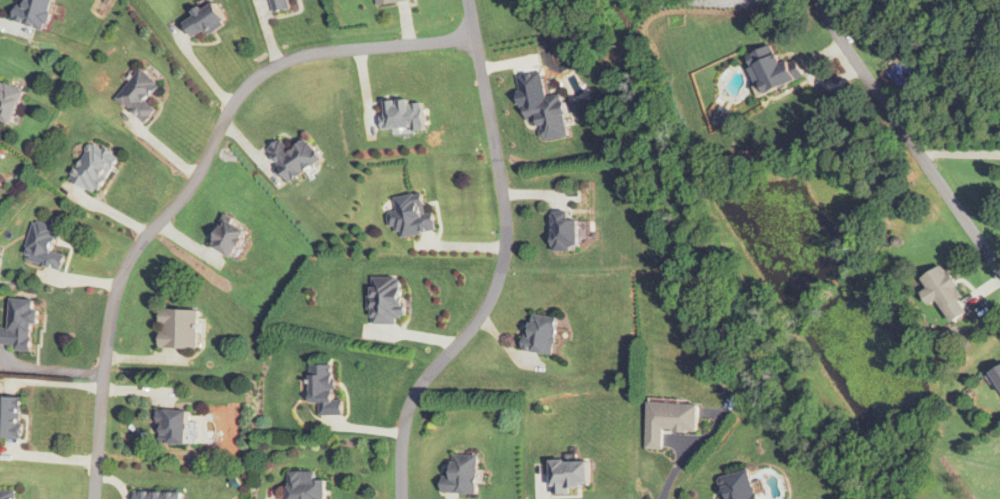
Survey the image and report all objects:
building: (389, 1)
building: (279, 5)
building: (34, 13)
building: (205, 21)
building: (773, 70)
building: (139, 96)
building: (10, 102)
building: (404, 116)
building: (550, 117)
road: (907, 137)
building: (294, 159)
building: (95, 168)
road: (194, 180)
building: (411, 217)
building: (566, 232)
building: (229, 238)
building: (45, 247)
road: (502, 263)
building: (944, 294)
building: (386, 299)
building: (20, 327)
building: (180, 331)
building: (541, 334)
building: (325, 390)
building: (11, 416)
building: (670, 419)
building: (174, 426)
road: (666, 472)
building: (572, 473)
building: (462, 474)
building: (305, 485)
building: (739, 485)
building: (7, 494)
building: (158, 494)

